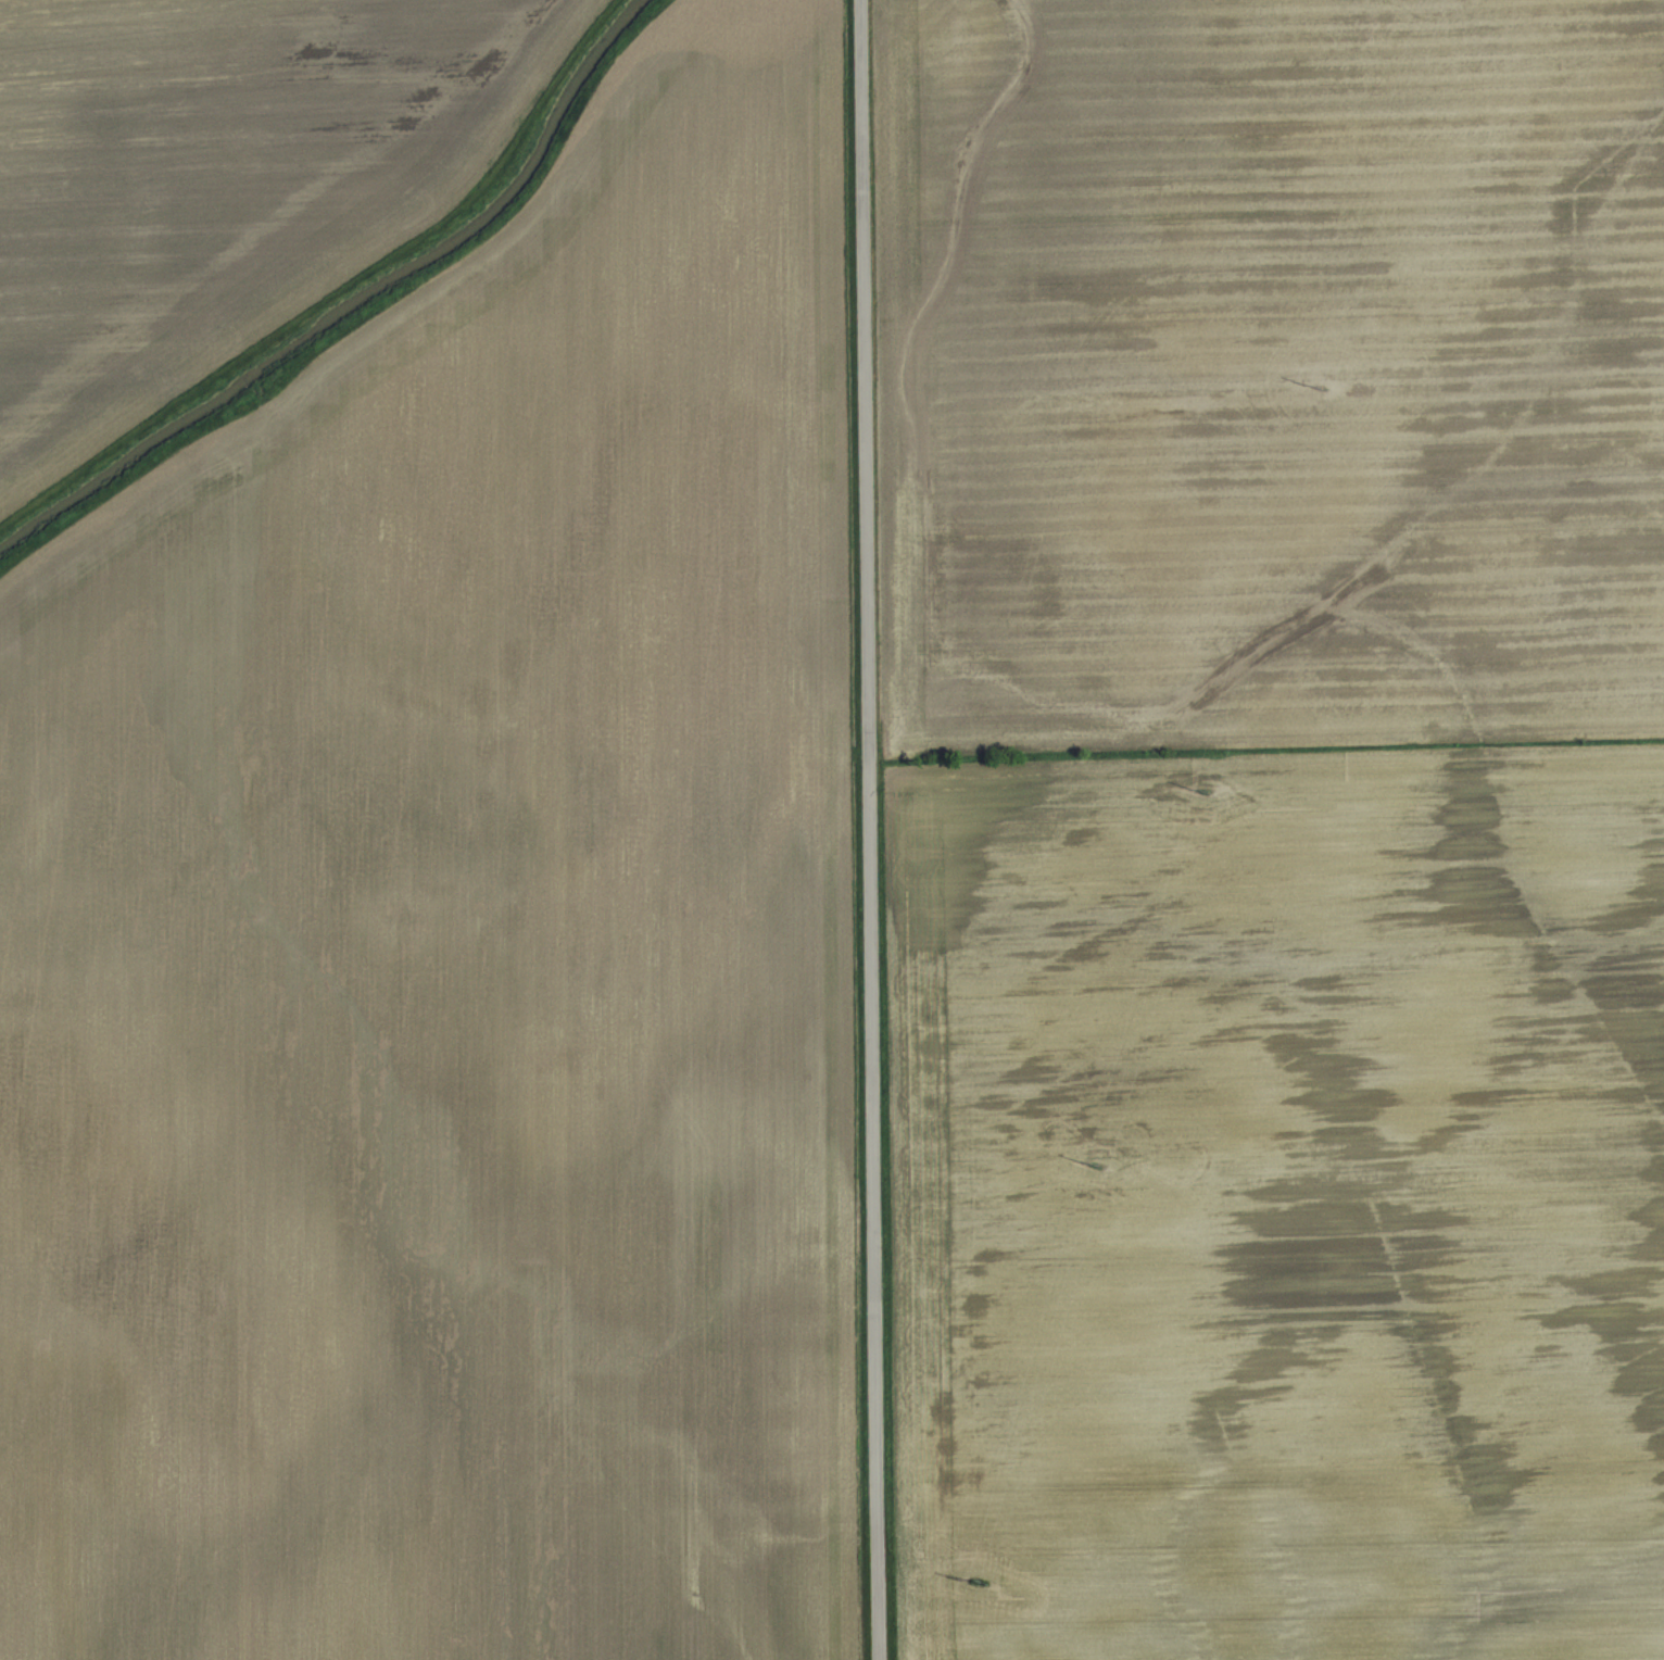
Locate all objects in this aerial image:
road: (865, 829)

